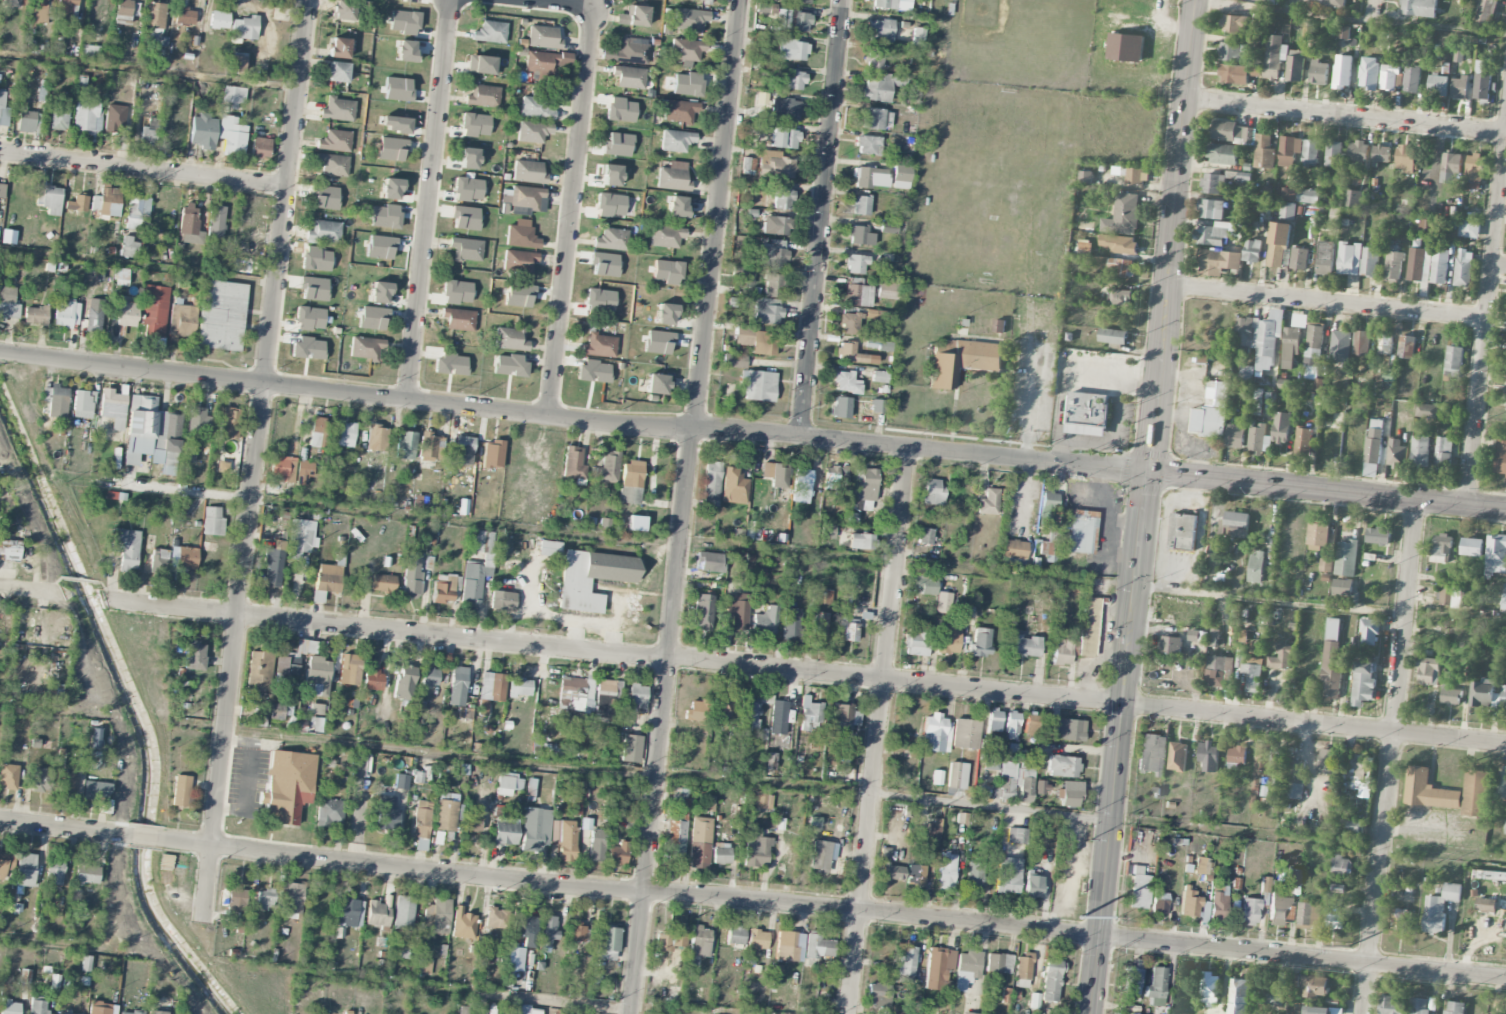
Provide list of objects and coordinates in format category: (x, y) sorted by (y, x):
building: (412, 0)
building: (1237, 0)
building: (801, 1)
building: (705, 2)
building: (11, 3)
road: (567, 3)
building: (1331, 3)
building: (884, 4)
building: (1419, 8)
building: (65, 9)
building: (343, 10)
road: (1376, 10)
building: (1484, 11)
building: (38, 12)
building: (123, 12)
building: (185, 15)
building: (634, 17)
road: (1350, 18)
building: (690, 19)
building: (219, 20)
building: (403, 21)
building: (795, 21)
building: (1234, 23)
building: (154, 24)
building: (244, 28)
building: (879, 31)
building: (490, 32)
building: (917, 36)
building: (543, 37)
building: (339, 48)
building: (1126, 48)
building: (687, 49)
building: (792, 50)
building: (405, 51)
building: (628, 51)
building: (89, 52)
building: (1234, 52)
building: (1274, 56)
building: (875, 59)
building: (544, 61)
building: (236, 63)
building: (482, 64)
building: (1296, 66)
road: (150, 71)
building: (336, 71)
building: (1343, 72)
building: (1319, 73)
building: (1237, 74)
building: (1367, 74)
building: (629, 77)
building: (1389, 78)
building: (795, 80)
building: (1411, 80)
building: (1481, 83)
building: (687, 84)
building: (880, 86)
building: (1438, 86)
building: (1459, 88)
building: (398, 89)
building: (233, 95)
building: (483, 95)
building: (169, 98)
building: (535, 108)
building: (338, 109)
building: (620, 109)
building: (785, 109)
building: (3, 111)
building: (679, 111)
building: (87, 114)
road: (1346, 116)
building: (59, 117)
building: (874, 119)
building: (29, 121)
building: (395, 124)
building: (475, 125)
building: (149, 131)
building: (172, 131)
building: (533, 131)
building: (204, 133)
building: (1232, 133)
building: (234, 136)
building: (784, 138)
building: (677, 140)
building: (335, 141)
park: (1014, 144)
building: (617, 145)
building: (868, 145)
building: (260, 147)
building: (391, 149)
building: (1264, 152)
building: (1290, 152)
building: (1311, 152)
building: (1381, 154)
building: (1222, 155)
building: (1335, 155)
building: (1358, 156)
building: (468, 158)
building: (1406, 158)
building: (1451, 163)
building: (333, 164)
building: (774, 165)
road: (145, 170)
building: (528, 172)
building: (1473, 172)
building: (610, 175)
building: (1133, 176)
building: (673, 177)
building: (871, 177)
building: (901, 177)
building: (1086, 177)
building: (1212, 184)
building: (390, 188)
building: (468, 189)
building: (1288, 194)
building: (1308, 196)
building: (526, 197)
building: (326, 198)
building: (50, 199)
building: (783, 199)
building: (1353, 199)
road: (428, 200)
building: (107, 202)
building: (76, 203)
building: (610, 204)
building: (860, 205)
building: (677, 207)
building: (1211, 209)
road: (571, 211)
building: (1287, 211)
building: (138, 213)
building: (384, 216)
building: (1123, 216)
building: (465, 218)
road: (821, 218)
building: (215, 222)
building: (189, 224)
building: (775, 225)
building: (1425, 225)
building: (887, 227)
building: (1469, 230)
building: (324, 232)
building: (521, 235)
building: (859, 235)
building: (666, 236)
road: (1172, 236)
building: (610, 239)
building: (1279, 243)
building: (1122, 245)
building: (380, 246)
building: (129, 247)
building: (466, 249)
building: (1252, 251)
building: (772, 253)
building: (1325, 257)
building: (315, 259)
building: (1300, 259)
building: (1349, 259)
building: (518, 261)
building: (1218, 262)
building: (1370, 262)
building: (604, 264)
building: (854, 264)
building: (1393, 264)
building: (1418, 264)
road: (139, 265)
road: (1499, 266)
building: (1439, 267)
building: (1120, 268)
building: (1463, 269)
building: (666, 271)
building: (122, 277)
building: (746, 279)
building: (773, 285)
building: (313, 288)
building: (886, 291)
building: (379, 292)
building: (456, 292)
building: (856, 295)
building: (519, 296)
building: (1121, 298)
building: (599, 300)
road: (1326, 303)
building: (8, 304)
building: (154, 310)
building: (767, 310)
building: (66, 314)
building: (126, 314)
building: (664, 314)
building: (35, 315)
building: (221, 315)
building: (309, 318)
building: (372, 318)
building: (458, 319)
building: (94, 320)
road: (1485, 320)
building: (181, 322)
building: (849, 323)
building: (999, 326)
building: (1247, 335)
building: (742, 337)
building: (1113, 337)
building: (510, 338)
building: (1269, 340)
building: (657, 342)
building: (764, 343)
building: (1361, 343)
building: (1384, 344)
building: (599, 345)
building: (877, 345)
building: (1290, 347)
building: (1340, 347)
building: (1407, 347)
building: (308, 348)
building: (366, 348)
road: (1, 351)
building: (1313, 353)
building: (852, 354)
building: (734, 360)
building: (961, 360)
building: (1454, 362)
building: (450, 364)
building: (509, 365)
building: (593, 371)
building: (1246, 374)
building: (843, 377)
building: (657, 384)
building: (758, 385)
building: (1505, 392)
building: (55, 400)
building: (83, 404)
building: (877, 406)
building: (113, 407)
building: (840, 407)
building: (1427, 411)
building: (1211, 412)
building: (1087, 414)
road: (574, 420)
building: (198, 421)
building: (229, 423)
building: (1281, 428)
building: (318, 432)
building: (151, 434)
building: (345, 435)
building: (1234, 436)
building: (376, 438)
building: (1258, 440)
building: (1303, 442)
building: (405, 445)
building: (428, 447)
building: (464, 448)
building: (1420, 451)
building: (492, 453)
building: (1373, 453)
building: (1443, 454)
building: (1397, 455)
building: (1500, 457)
road: (259, 459)
building: (573, 463)
building: (222, 466)
building: (284, 467)
building: (607, 468)
building: (304, 472)
road: (1, 473)
traffic signals: (1148, 474)
building: (834, 475)
building: (711, 478)
building: (776, 479)
building: (631, 482)
building: (864, 484)
building: (801, 485)
building: (734, 486)
road: (1327, 491)
building: (932, 492)
building: (988, 502)
road: (687, 506)
building: (180, 507)
building: (1047, 509)
building: (213, 521)
building: (1235, 528)
building: (827, 531)
building: (1182, 532)
building: (1071, 534)
building: (924, 536)
building: (1379, 536)
building: (301, 537)
building: (1317, 537)
building: (860, 541)
building: (482, 542)
building: (125, 546)
road: (784, 547)
building: (1472, 547)
building: (549, 548)
building: (1013, 549)
building: (1442, 549)
building: (10, 550)
building: (1495, 556)
building: (186, 558)
building: (1346, 558)
building: (709, 561)
building: (159, 562)
building: (274, 564)
building: (1326, 564)
building: (1256, 568)
building: (411, 578)
building: (591, 578)
building: (326, 580)
building: (925, 582)
building: (382, 583)
building: (471, 583)
building: (1342, 587)
building: (446, 589)
road: (30, 590)
building: (824, 596)
building: (1445, 596)
building: (503, 597)
building: (1503, 597)
building: (943, 602)
building: (703, 610)
building: (740, 614)
building: (766, 620)
building: (792, 624)
building: (821, 624)
building: (1088, 627)
building: (849, 628)
road: (386, 630)
building: (1370, 632)
building: (948, 636)
building: (916, 639)
building: (979, 643)
building: (1024, 646)
building: (1170, 646)
building: (1062, 651)
building: (194, 656)
building: (294, 658)
building: (1281, 659)
building: (1332, 660)
building: (350, 669)
building: (259, 670)
building: (1427, 671)
building: (1217, 672)
building: (318, 675)
building: (1251, 676)
building: (429, 677)
building: (373, 678)
building: (404, 682)
building: (1363, 683)
building: (457, 686)
building: (520, 687)
building: (490, 689)
building: (577, 693)
building: (1484, 694)
building: (637, 695)
building: (1451, 696)
building: (607, 697)
building: (1503, 697)
road: (1088, 701)
building: (722, 703)
road: (52, 706)
building: (316, 709)
building: (280, 711)
building: (695, 711)
building: (749, 713)
building: (810, 714)
building: (778, 717)
building: (844, 718)
building: (994, 720)
building: (1031, 724)
building: (319, 725)
building: (1011, 725)
road: (878, 729)
building: (1067, 729)
building: (965, 733)
building: (936, 734)
road: (1120, 743)
building: (631, 748)
building: (548, 749)
building: (1152, 754)
building: (1236, 755)
building: (1208, 756)
building: (1178, 757)
road: (1388, 757)
building: (1262, 759)
building: (94, 760)
building: (771, 761)
building: (990, 762)
building: (1328, 762)
building: (1359, 762)
building: (1062, 766)
building: (957, 775)
building: (8, 776)
building: (937, 777)
building: (41, 780)
building: (1296, 780)
building: (1015, 781)
building: (401, 782)
building: (66, 783)
building: (508, 783)
building: (1256, 783)
building: (288, 786)
building: (1501, 786)
building: (181, 790)
building: (1428, 791)
road: (866, 793)
building: (1070, 793)
building: (1474, 793)
building: (98, 794)
building: (680, 795)
building: (763, 800)
building: (709, 803)
building: (576, 806)
building: (328, 812)
building: (386, 813)
building: (445, 814)
building: (421, 821)
building: (473, 824)
road: (62, 828)
building: (1505, 828)
building: (536, 829)
building: (505, 831)
building: (932, 833)
building: (1016, 835)
road: (147, 839)
building: (564, 839)
building: (675, 840)
building: (700, 843)
building: (596, 845)
building: (756, 848)
building: (617, 853)
building: (721, 853)
building: (822, 855)
building: (3, 863)
building: (1203, 866)
building: (1341, 866)
building: (25, 869)
building: (54, 872)
building: (891, 872)
building: (946, 872)
building: (86, 873)
building: (915, 875)
building: (1008, 875)
building: (974, 876)
building: (1489, 876)
building: (1293, 877)
building: (1033, 886)
building: (1139, 888)
building: (1337, 896)
building: (265, 898)
building: (291, 899)
building: (236, 901)
building: (1159, 901)
building: (1190, 902)
building: (1218, 904)
building: (1254, 904)
building: (1486, 905)
building: (1440, 908)
road: (837, 910)
building: (1278, 910)
building: (346, 913)
building: (404, 913)
building: (378, 914)
building: (1309, 914)
building: (437, 916)
power tower: (1081, 917)
building: (496, 918)
building: (1334, 920)
building: (1400, 920)
building: (463, 923)
building: (525, 928)
building: (547, 932)
building: (577, 932)
building: (735, 935)
building: (671, 939)
building: (757, 939)
building: (700, 941)
building: (607, 943)
building: (789, 946)
road: (82, 947)
building: (818, 947)
power tower: (1349, 947)
building: (407, 951)
building: (515, 959)
building: (906, 961)
building: (85, 963)
building: (999, 963)
building: (425, 967)
building: (1023, 967)
building: (939, 969)
building: (966, 969)
building: (24, 976)
building: (1051, 980)
building: (1131, 984)
building: (1315, 986)
building: (1156, 987)
building: (1209, 988)
building: (878, 995)
road: (514, 996)
building: (1239, 996)
building: (1272, 996)
building: (1391, 1006)
building: (1419, 1006)
building: (10, 1007)
building: (38, 1007)
building: (99, 1008)
building: (1455, 1008)
building: (463, 1009)
building: (526, 1010)
building: (1322, 1010)
building: (130, 1012)
building: (156, 1012)
building: (72, 1013)
building: (968, 1013)

